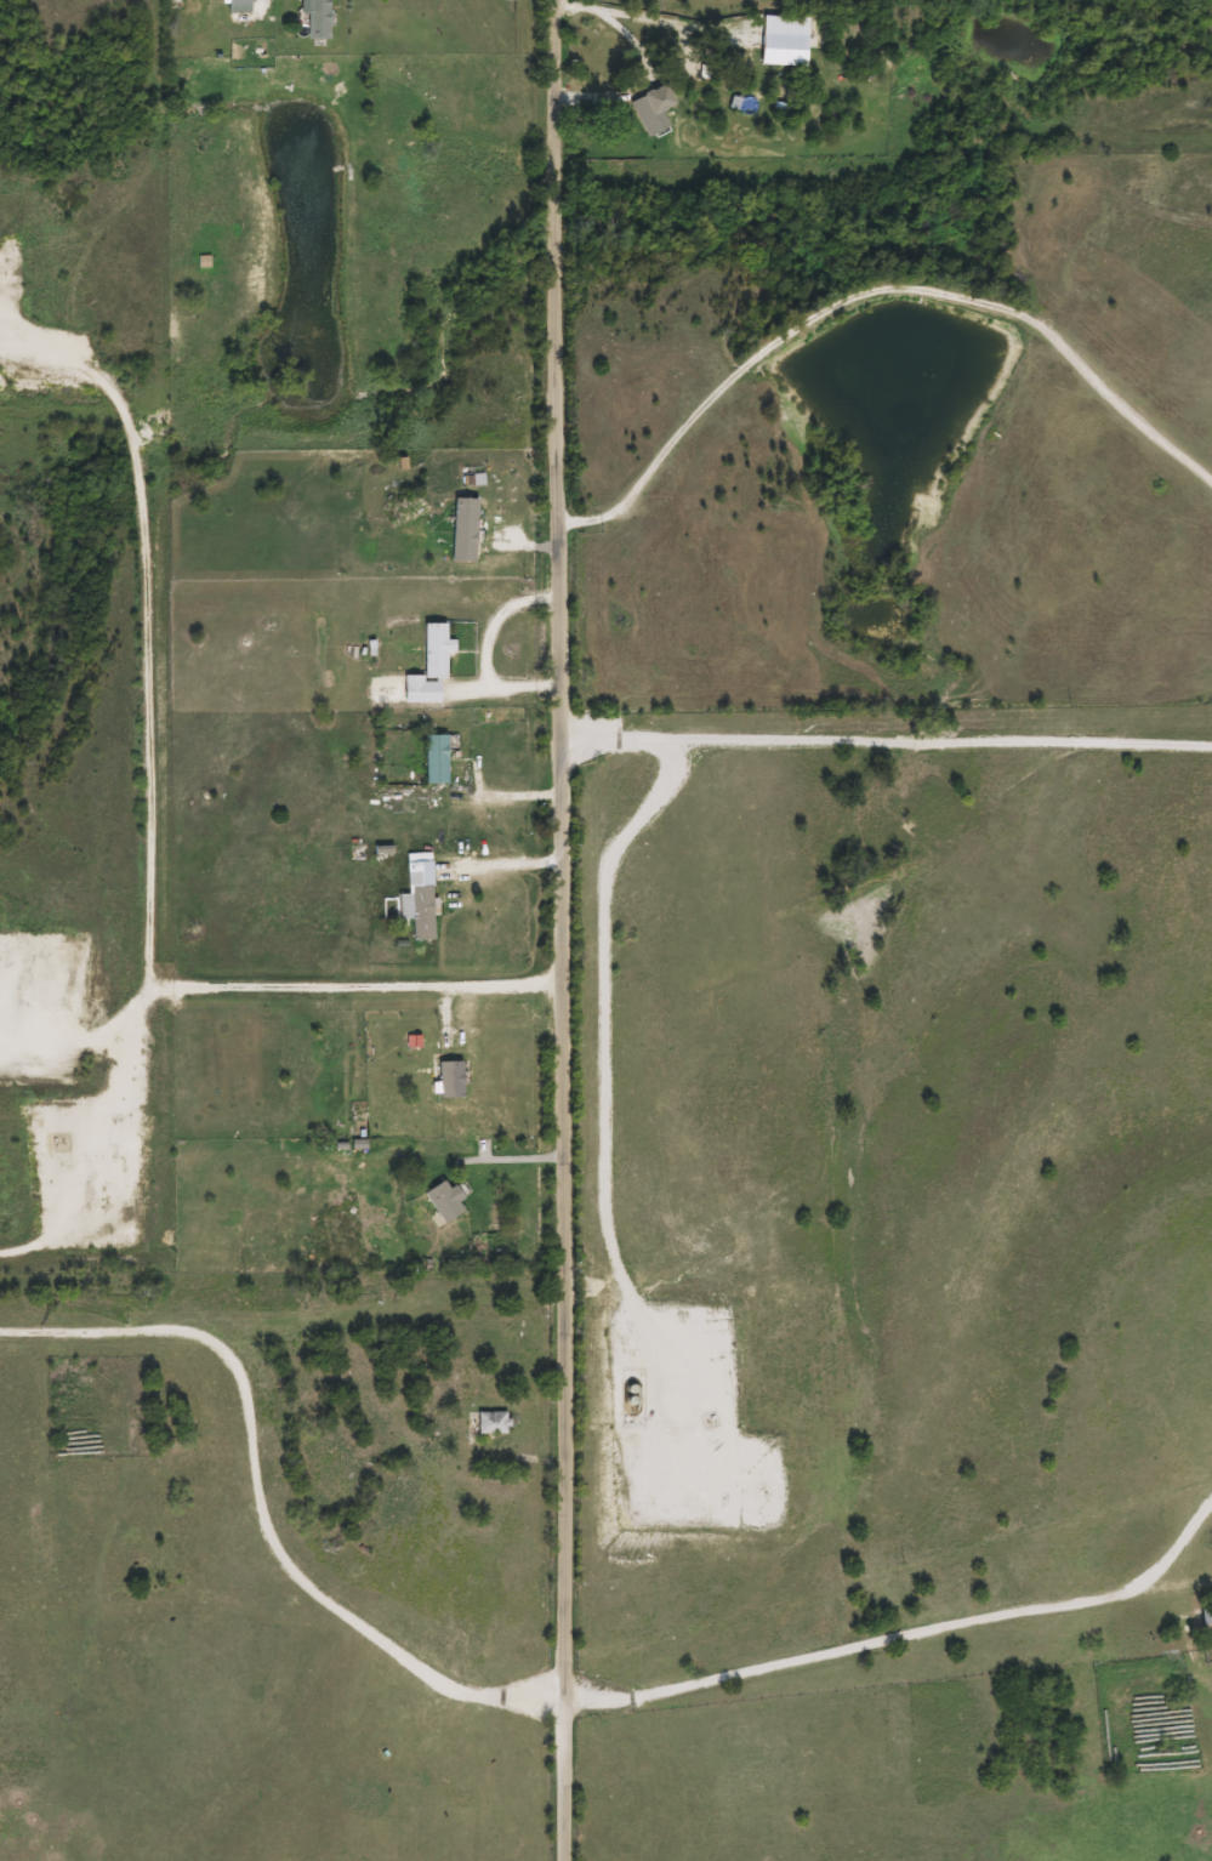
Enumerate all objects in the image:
building: (281, 0)
building: (317, 23)
building: (653, 99)
road: (876, 289)
building: (462, 530)
road: (482, 650)
building: (427, 667)
road: (889, 747)
building: (433, 761)
road: (149, 821)
road: (503, 864)
building: (417, 901)
road: (567, 930)
building: (449, 1081)
road: (508, 1161)
building: (442, 1201)
building: (491, 1422)
road: (256, 1504)
building: (1205, 1623)
road: (901, 1640)
road: (886, 1843)

